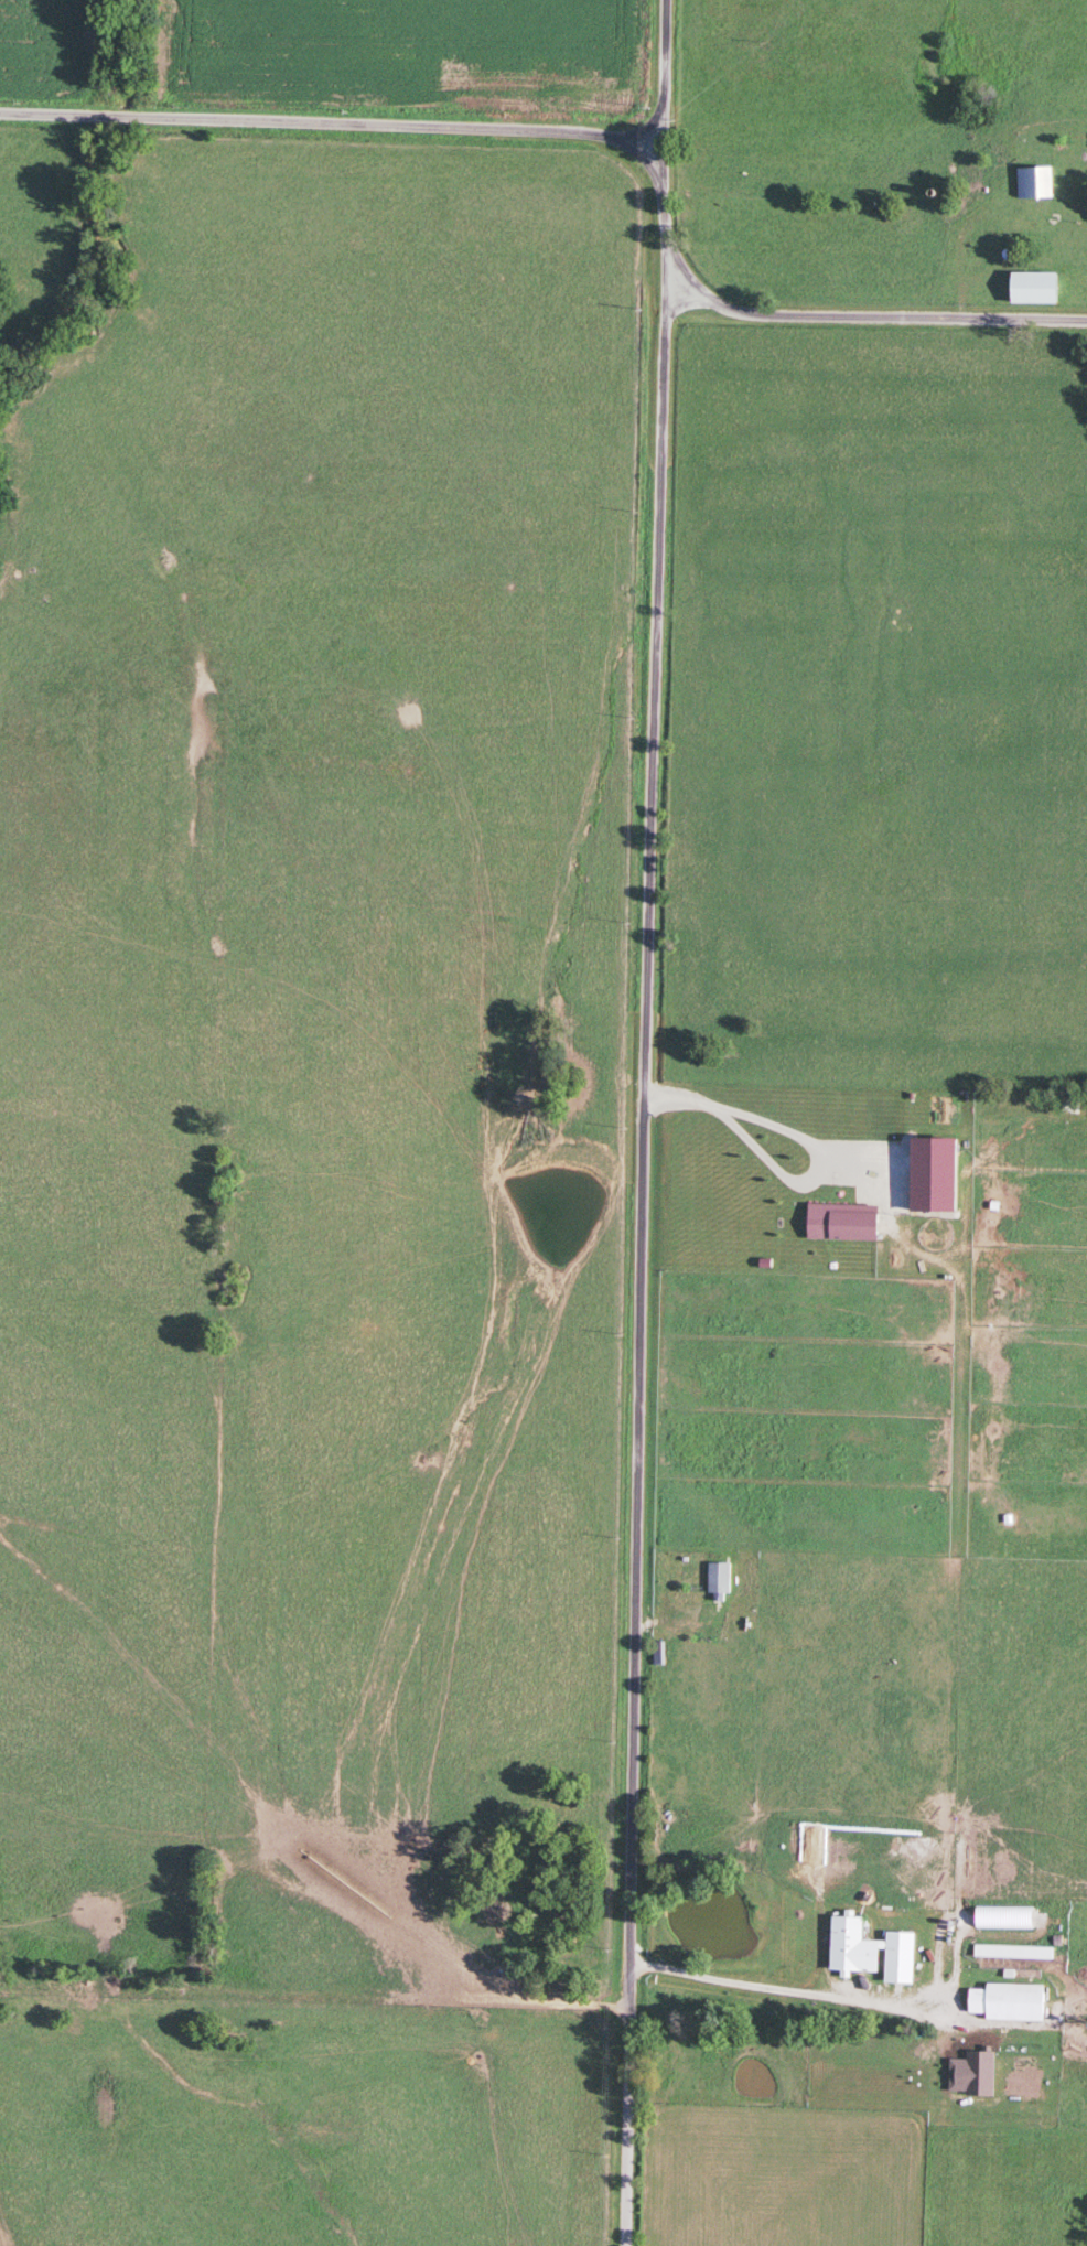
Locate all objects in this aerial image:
road: (333, 122)
building: (1036, 180)
building: (1036, 284)
road: (875, 316)
road: (646, 1122)
road: (847, 1997)
building: (1016, 2000)

